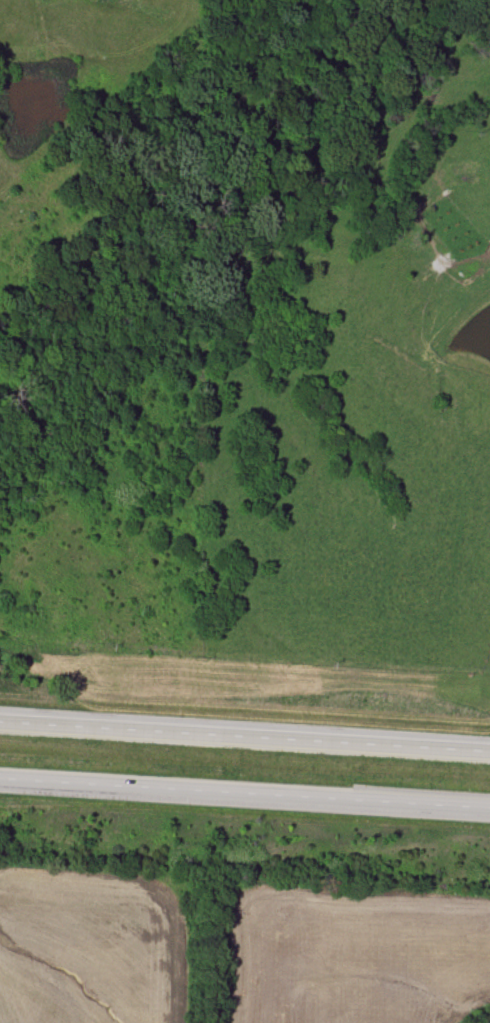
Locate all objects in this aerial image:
road: (244, 736)
road: (244, 799)
crop: (357, 955)

